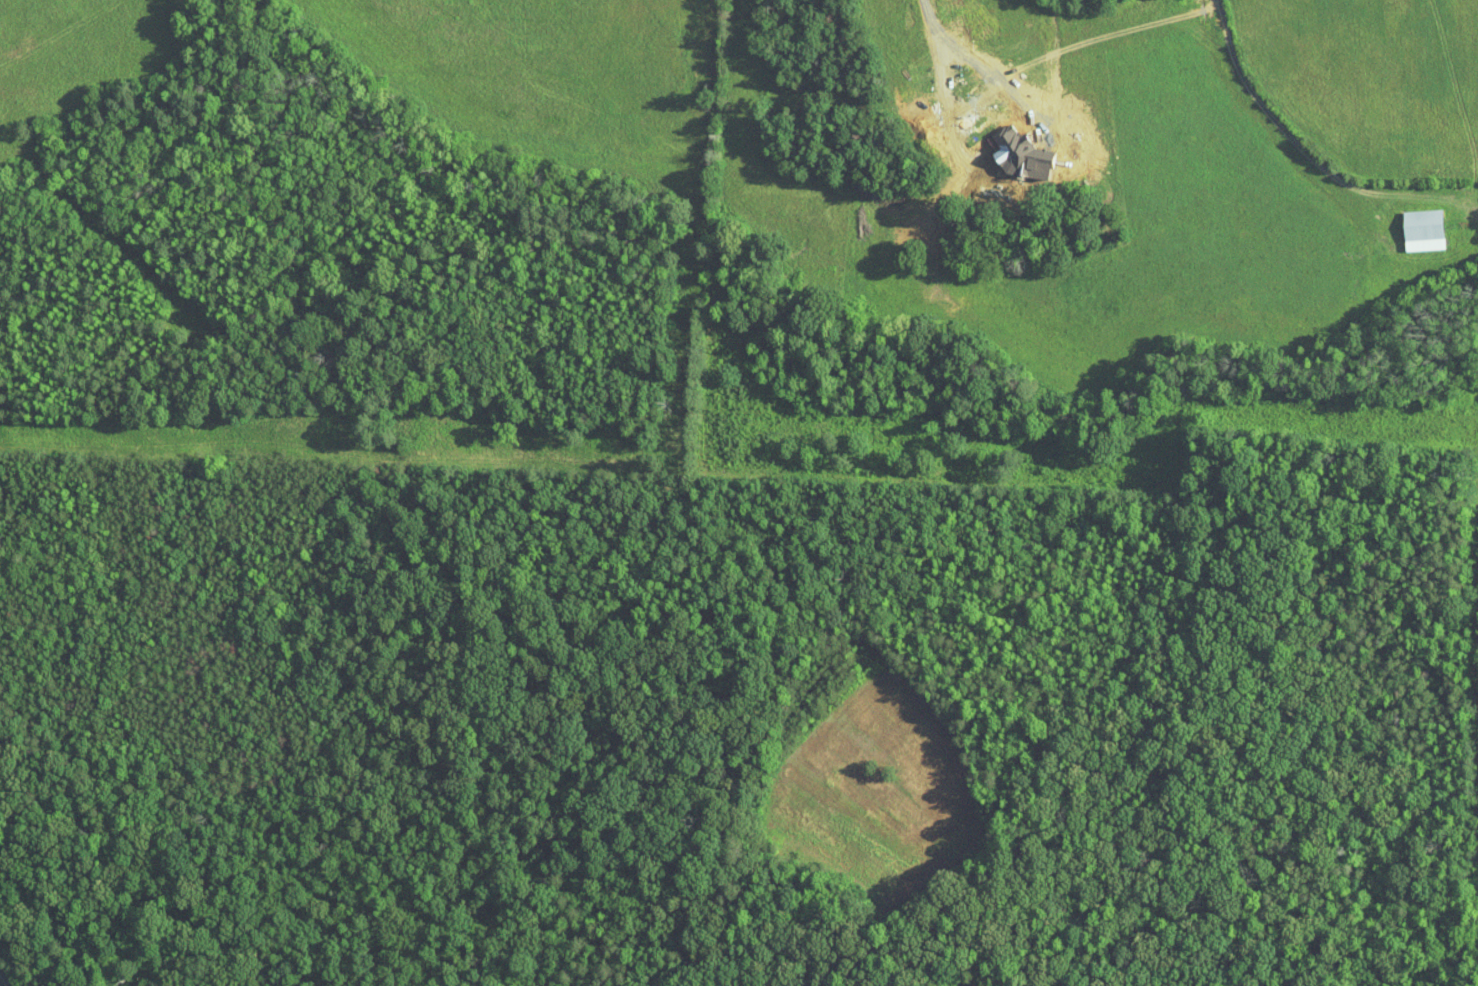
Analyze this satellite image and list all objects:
building: (1410, 222)
road: (2, 981)

